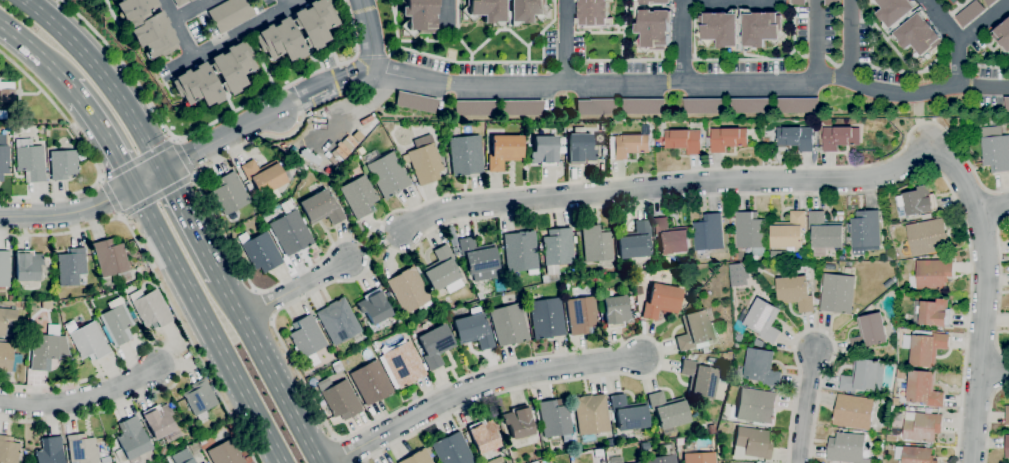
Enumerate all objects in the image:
building: (180, 2)
building: (798, 2)
building: (831, 2)
park: (950, 2)
building: (990, 2)
road: (287, 3)
road: (188, 8)
building: (506, 11)
road: (447, 13)
building: (230, 14)
building: (594, 14)
building: (970, 14)
building: (419, 16)
road: (942, 21)
road: (984, 22)
building: (653, 24)
building: (147, 26)
building: (909, 26)
road: (178, 28)
building: (298, 31)
road: (369, 33)
building: (720, 33)
road: (236, 34)
building: (1002, 37)
road: (816, 38)
road: (563, 39)
road: (847, 40)
road: (680, 41)
road: (36, 52)
road: (957, 63)
road: (104, 76)
building: (215, 76)
road: (354, 81)
road: (321, 82)
road: (692, 83)
road: (330, 85)
building: (7, 91)
road: (75, 91)
building: (415, 101)
road: (305, 102)
building: (1006, 104)
building: (751, 105)
building: (798, 105)
building: (596, 106)
building: (643, 106)
building: (704, 106)
building: (474, 107)
building: (521, 107)
building: (3, 114)
building: (602, 126)
building: (645, 129)
building: (14, 130)
building: (357, 135)
building: (41, 137)
building: (796, 138)
building: (840, 138)
building: (727, 139)
building: (562, 140)
road: (107, 141)
building: (684, 141)
building: (630, 145)
building: (580, 146)
building: (995, 149)
building: (544, 150)
building: (504, 151)
road: (89, 153)
building: (465, 154)
road: (184, 157)
road: (139, 159)
building: (4, 160)
building: (30, 160)
building: (63, 163)
building: (424, 163)
building: (296, 165)
building: (302, 168)
traffic signals: (163, 171)
building: (386, 172)
building: (266, 178)
road: (143, 180)
road: (684, 185)
traffic signals: (134, 186)
building: (252, 192)
building: (229, 193)
road: (158, 195)
building: (358, 195)
road: (112, 197)
building: (918, 201)
building: (321, 207)
road: (992, 209)
building: (926, 217)
road: (454, 221)
road: (191, 223)
building: (789, 231)
building: (291, 232)
building: (864, 232)
building: (751, 233)
building: (825, 234)
building: (451, 235)
building: (708, 235)
building: (671, 237)
building: (927, 237)
building: (574, 239)
building: (634, 241)
road: (374, 243)
building: (596, 244)
building: (557, 248)
building: (260, 251)
building: (520, 251)
building: (890, 255)
building: (779, 256)
building: (112, 259)
building: (478, 259)
building: (767, 259)
building: (27, 265)
building: (71, 266)
building: (4, 268)
building: (441, 269)
building: (934, 274)
road: (160, 282)
road: (999, 288)
road: (293, 289)
building: (409, 290)
building: (795, 293)
building: (837, 294)
building: (10, 298)
building: (660, 300)
building: (374, 306)
building: (150, 307)
road: (282, 308)
building: (616, 311)
road: (983, 312)
building: (932, 313)
building: (581, 314)
building: (546, 318)
building: (7, 319)
building: (762, 320)
building: (116, 321)
building: (338, 321)
building: (400, 323)
road: (209, 324)
building: (508, 324)
building: (473, 330)
road: (815, 330)
building: (696, 331)
building: (869, 333)
building: (306, 336)
building: (740, 338)
building: (87, 339)
building: (435, 345)
building: (45, 347)
building: (925, 347)
building: (704, 349)
building: (8, 357)
road: (180, 362)
building: (402, 363)
building: (762, 367)
road: (269, 370)
road: (993, 371)
road: (1000, 372)
building: (901, 374)
building: (864, 376)
building: (699, 378)
building: (371, 382)
road: (477, 386)
building: (923, 389)
building: (199, 396)
road: (80, 397)
building: (339, 398)
building: (896, 401)
building: (756, 406)
road: (805, 406)
building: (667, 411)
building: (628, 412)
building: (854, 412)
building: (1006, 415)
building: (897, 416)
building: (591, 417)
road: (988, 419)
building: (158, 420)
building: (555, 421)
building: (518, 422)
building: (702, 427)
building: (921, 427)
building: (711, 429)
building: (483, 435)
building: (133, 439)
building: (892, 439)
building: (753, 441)
building: (1007, 447)
building: (846, 448)
building: (82, 449)
building: (452, 449)
building: (8, 450)
building: (163, 450)
building: (50, 451)
building: (225, 453)
building: (662, 455)
building: (915, 455)
building: (418, 456)
building: (183, 457)
building: (698, 457)
building: (615, 459)
building: (495, 460)
building: (203, 462)
building: (204, 462)
building: (637, 462)
building: (760, 462)

